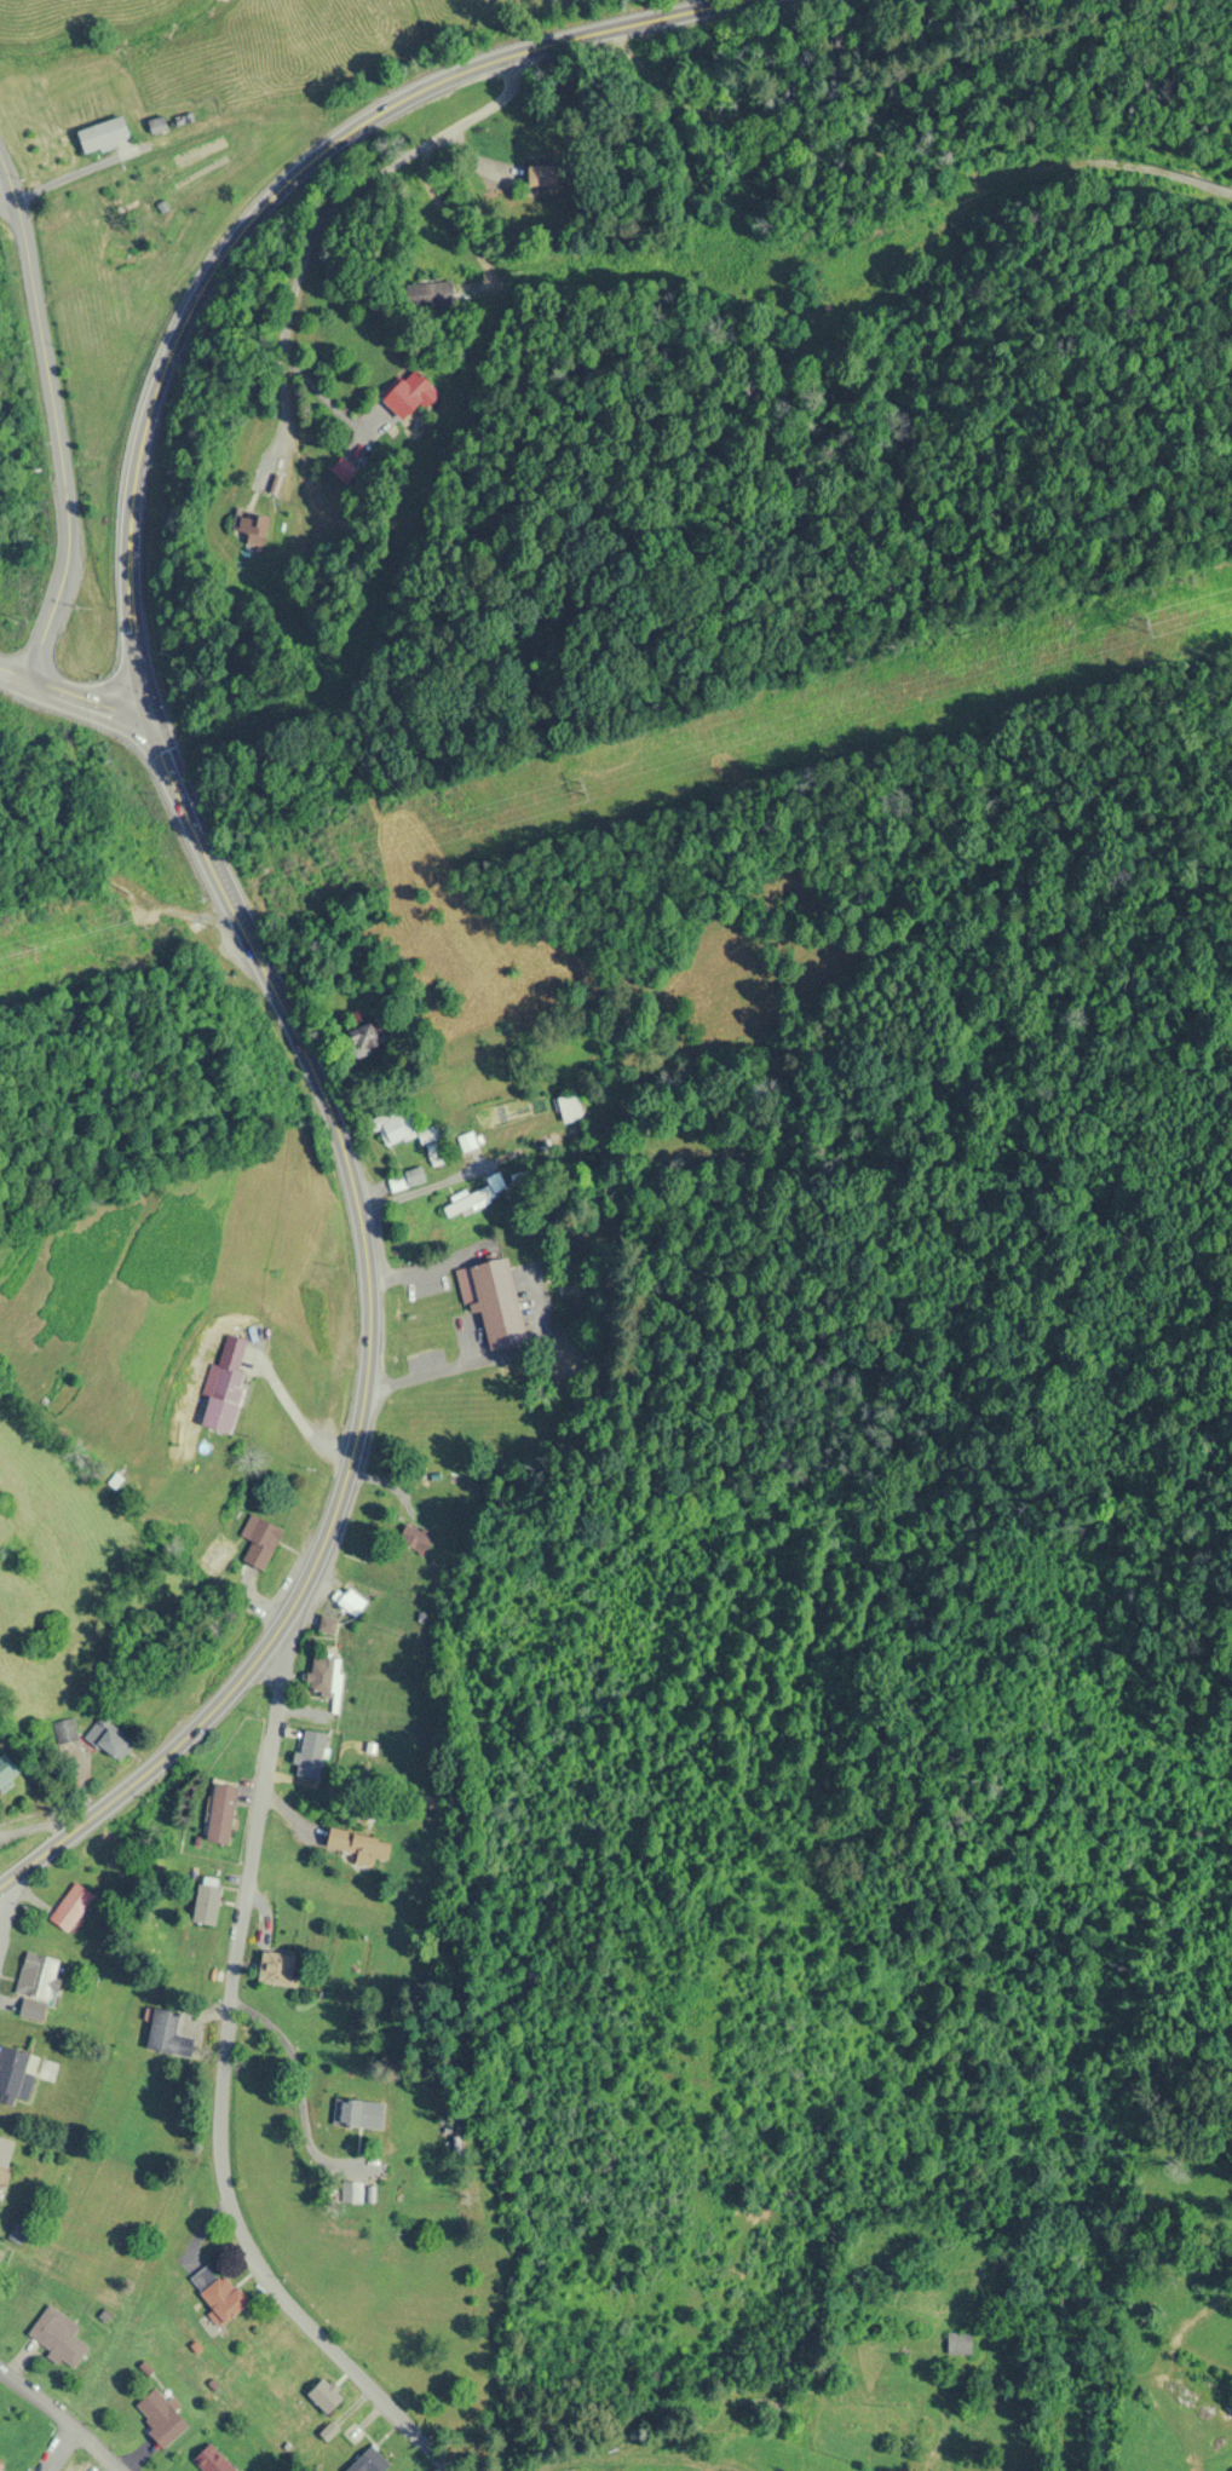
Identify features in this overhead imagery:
building: (156, 125)
building: (102, 133)
road: (5, 188)
road: (333, 211)
road: (59, 477)
road: (17, 675)
power tower: (580, 788)
road: (197, 857)
building: (362, 1038)
building: (569, 1107)
building: (393, 1125)
building: (405, 1180)
building: (476, 1197)
building: (496, 1304)
building: (225, 1387)
building: (414, 1540)
building: (259, 1542)
building: (351, 1602)
building: (321, 1676)
building: (64, 1730)
building: (113, 1744)
building: (309, 1755)
building: (5, 1770)
building: (219, 1824)
building: (357, 1844)
road: (2, 1901)
building: (205, 1903)
building: (70, 1907)
building: (278, 1968)
building: (36, 1985)
building: (167, 2035)
building: (13, 2077)
road: (217, 2101)
building: (347, 2114)
building: (2, 2153)
building: (351, 2193)
building: (215, 2292)
building: (57, 2337)
building: (958, 2343)
building: (323, 2395)
road: (62, 2415)
building: (159, 2417)
road: (57, 2447)
building: (211, 2460)
building: (0, 2467)

